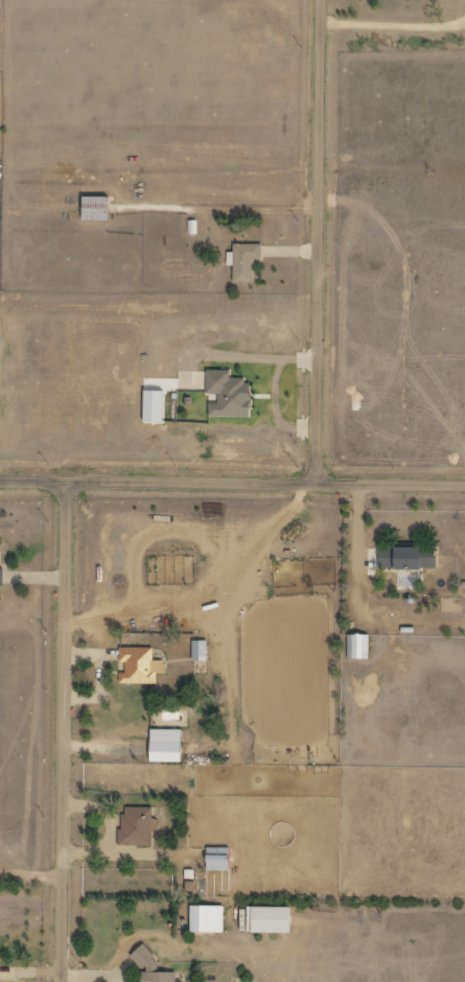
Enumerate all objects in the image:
building: (97, 207)
road: (320, 241)
building: (244, 262)
building: (230, 394)
building: (155, 406)
road: (232, 481)
building: (409, 558)
building: (1, 568)
building: (358, 646)
building: (201, 650)
building: (140, 666)
road: (67, 731)
building: (168, 746)
building: (138, 826)
building: (219, 859)
building: (208, 919)
building: (144, 961)

